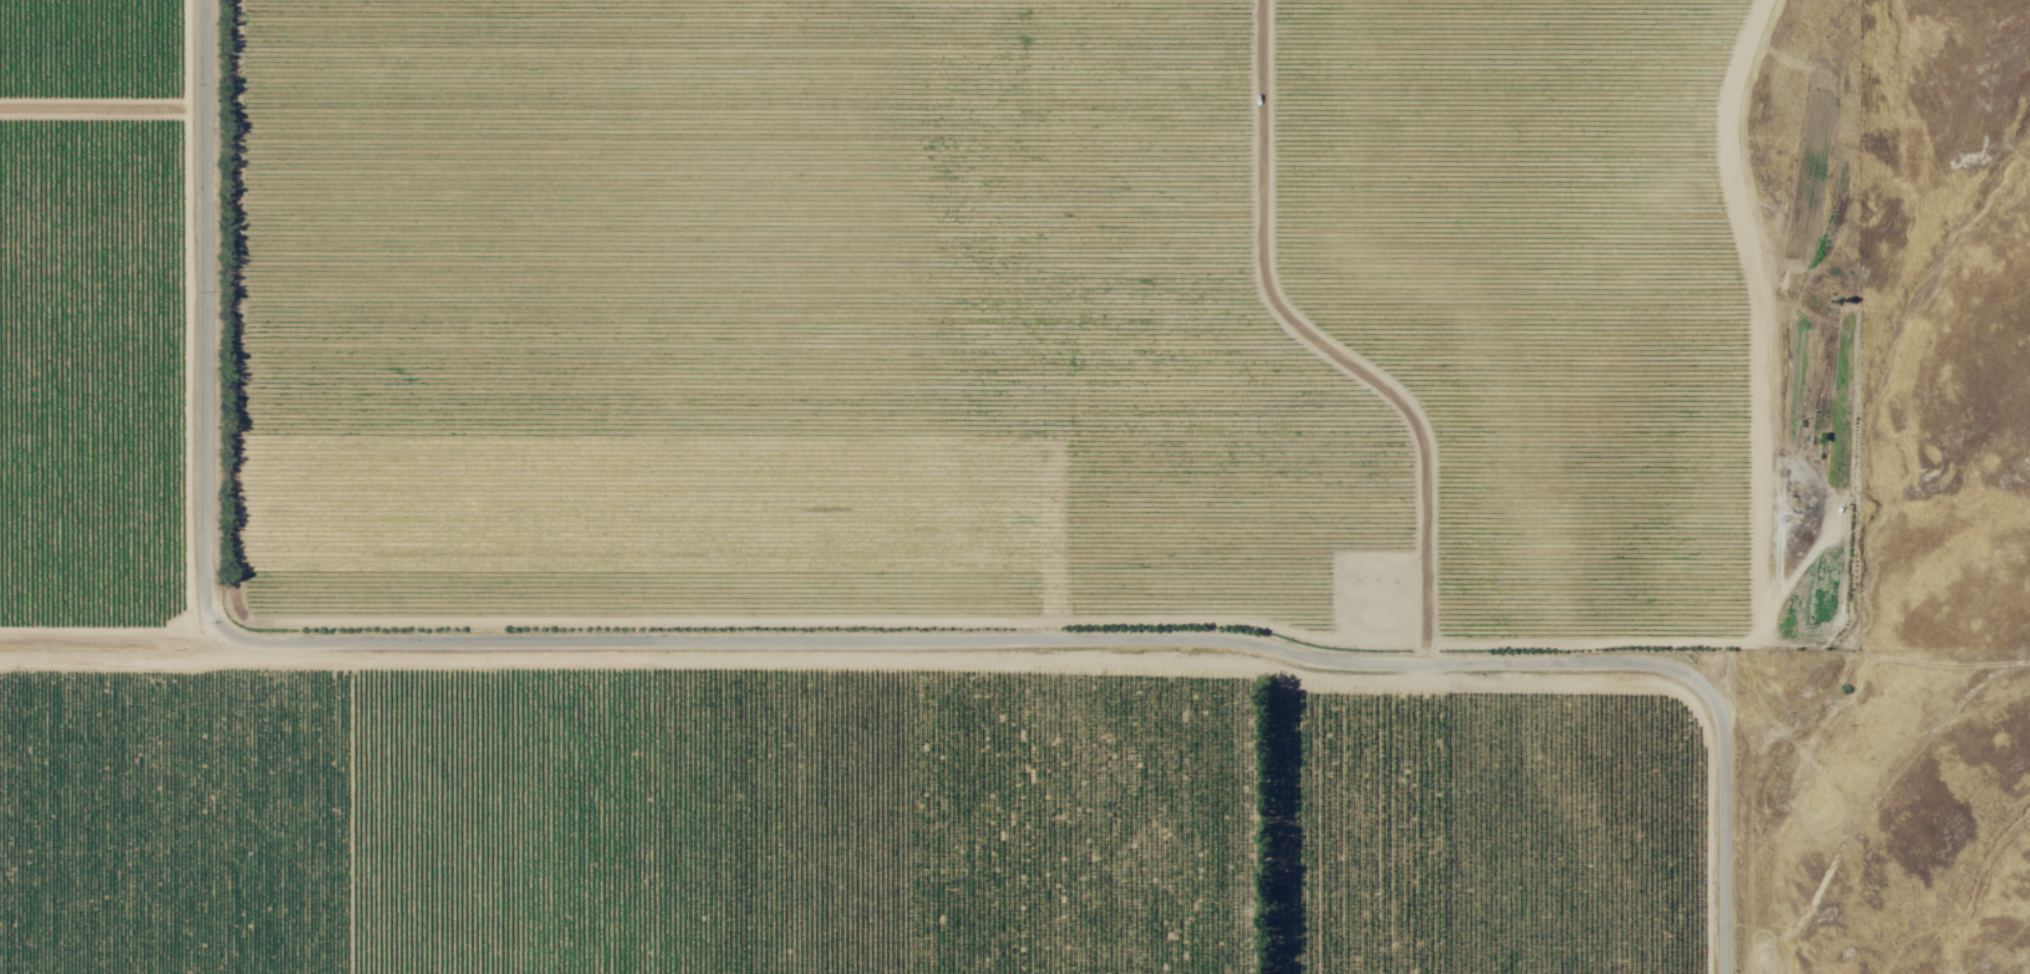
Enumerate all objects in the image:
road: (210, 324)
road: (1076, 328)
crop: (867, 482)
road: (1733, 633)
road: (104, 642)
road: (1101, 654)

